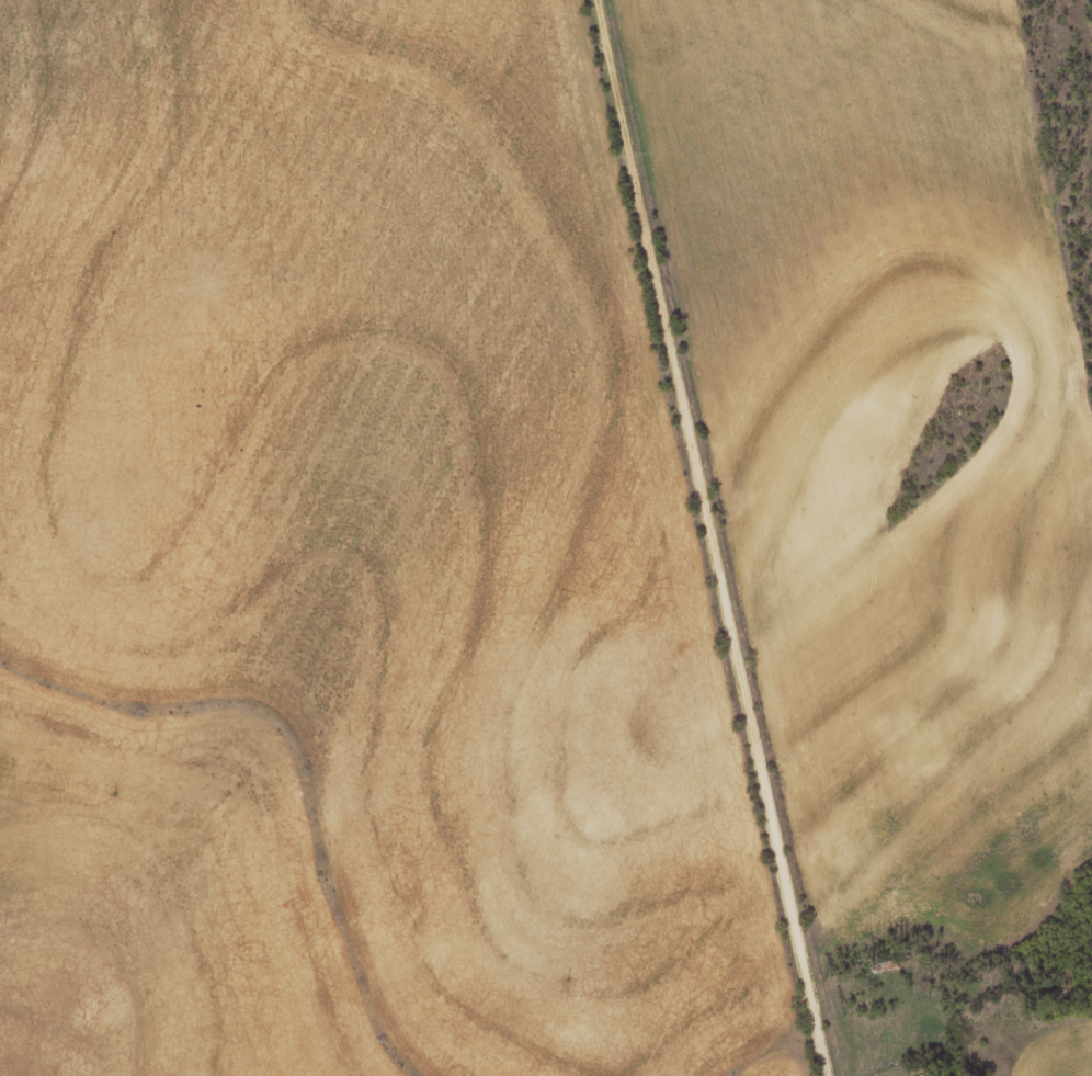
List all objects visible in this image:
road: (1077, 293)
road: (705, 537)
road: (933, 913)

